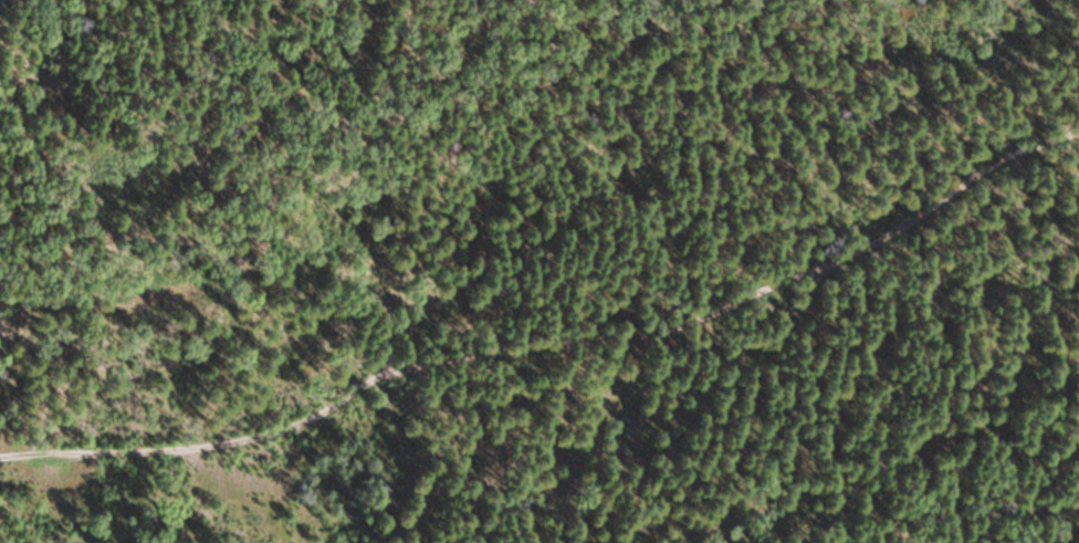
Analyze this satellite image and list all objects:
road: (554, 344)

